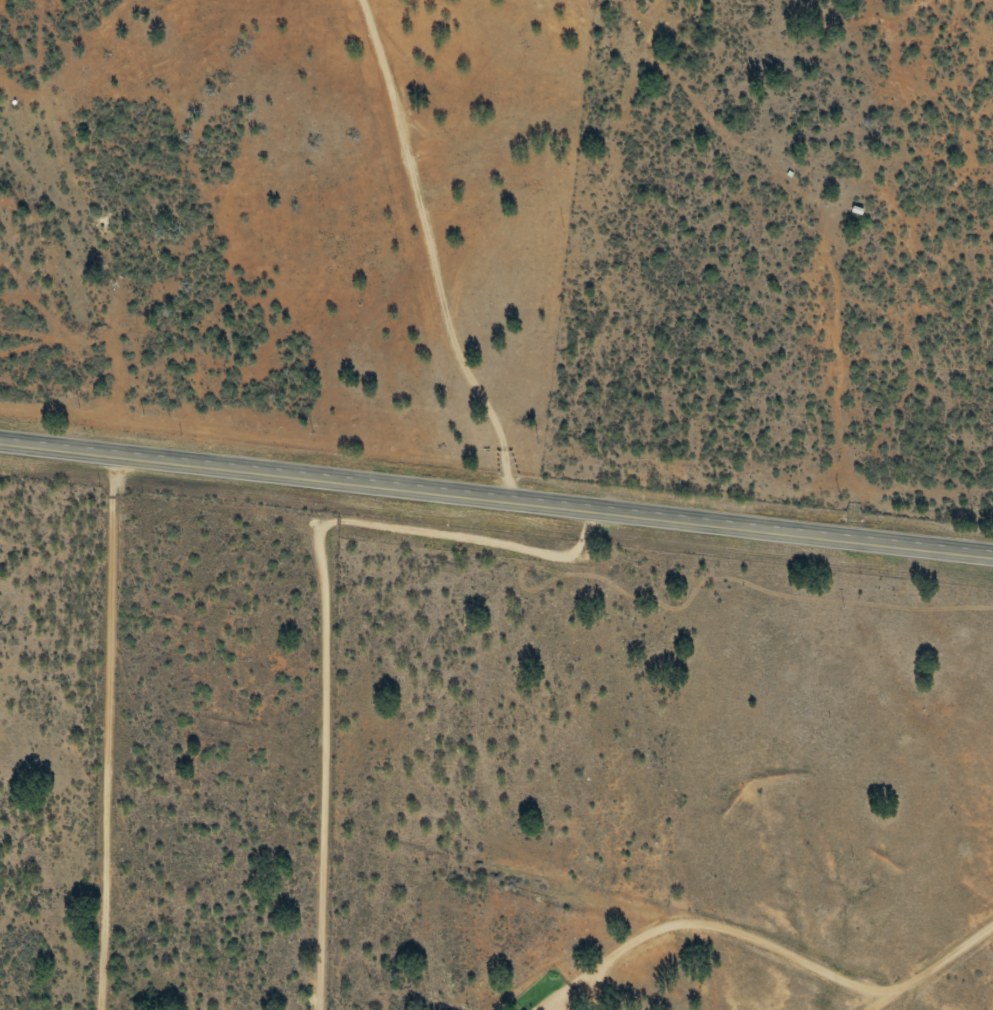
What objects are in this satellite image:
road: (496, 502)
road: (956, 976)

